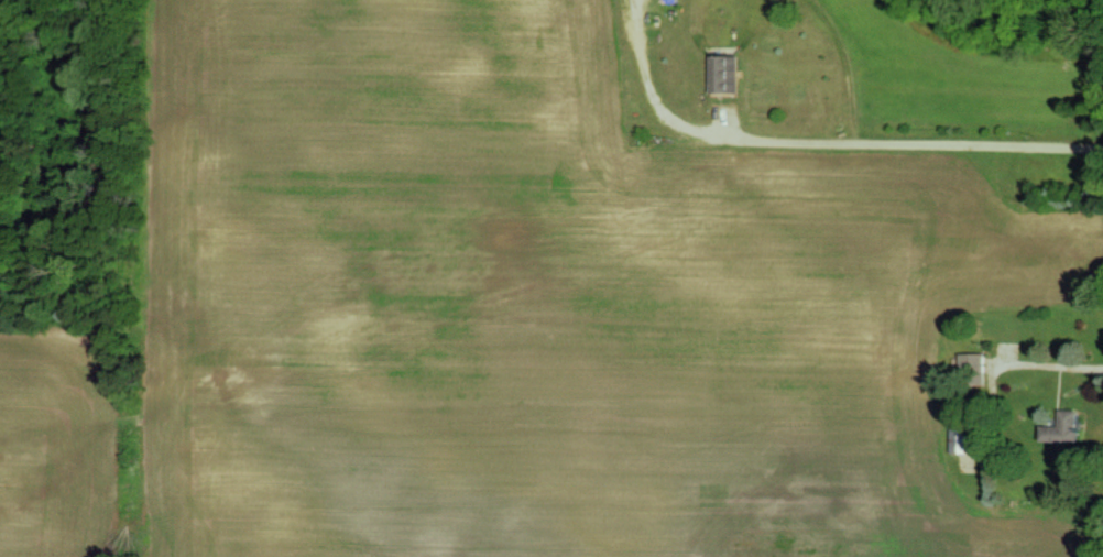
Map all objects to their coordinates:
building: (721, 73)
road: (907, 140)
building: (971, 360)
building: (1060, 428)
building: (957, 438)

